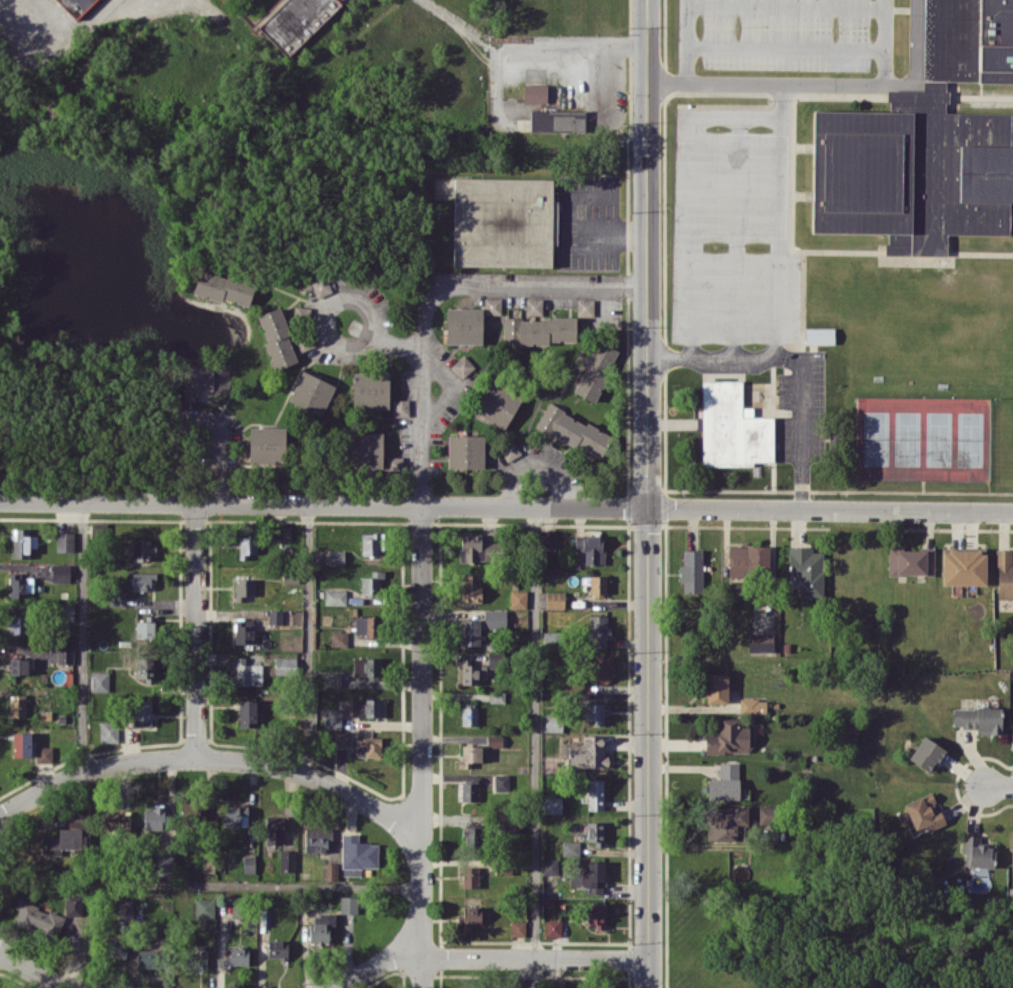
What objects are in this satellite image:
building: (75, 6)
building: (294, 21)
road: (680, 40)
road: (530, 41)
road: (883, 41)
road: (819, 83)
building: (535, 93)
building: (557, 120)
building: (925, 143)
road: (688, 172)
building: (504, 221)
road: (616, 235)
road: (779, 238)
road: (542, 284)
building: (223, 287)
building: (533, 306)
building: (585, 307)
building: (464, 325)
building: (546, 330)
road: (326, 334)
building: (819, 335)
building: (277, 338)
road: (800, 359)
building: (463, 365)
building: (595, 370)
building: (206, 377)
road: (458, 385)
building: (370, 389)
building: (311, 392)
road: (421, 392)
building: (497, 404)
building: (400, 407)
building: (732, 427)
building: (573, 430)
road: (223, 440)
building: (266, 445)
building: (364, 449)
building: (512, 449)
building: (465, 451)
road: (536, 459)
building: (393, 463)
road: (648, 493)
road: (324, 503)
road: (830, 509)
building: (547, 537)
building: (65, 541)
building: (22, 542)
building: (372, 543)
building: (247, 546)
building: (590, 547)
building: (142, 548)
building: (477, 548)
building: (336, 557)
building: (748, 561)
building: (911, 561)
building: (963, 567)
building: (807, 569)
building: (691, 570)
building: (60, 572)
building: (1004, 574)
building: (142, 580)
building: (373, 583)
building: (20, 584)
building: (598, 584)
building: (243, 588)
building: (470, 588)
building: (335, 596)
building: (518, 599)
building: (554, 599)
building: (65, 612)
building: (275, 616)
building: (495, 618)
building: (18, 624)
building: (367, 625)
building: (144, 629)
road: (194, 629)
building: (243, 631)
building: (470, 631)
building: (598, 631)
road: (82, 636)
road: (308, 638)
building: (339, 638)
building: (760, 642)
building: (65, 654)
building: (18, 663)
building: (285, 665)
building: (367, 666)
building: (145, 668)
building: (601, 669)
building: (471, 671)
building: (247, 672)
building: (332, 679)
building: (99, 681)
building: (716, 688)
building: (17, 705)
building: (752, 705)
building: (366, 707)
building: (143, 712)
building: (594, 712)
building: (247, 713)
building: (469, 715)
building: (332, 719)
building: (978, 719)
building: (553, 722)
building: (108, 731)
building: (730, 736)
building: (340, 738)
building: (494, 740)
building: (21, 744)
building: (370, 746)
road: (420, 746)
road: (534, 746)
building: (44, 753)
building: (588, 753)
building: (927, 754)
building: (469, 755)
road: (209, 757)
building: (500, 782)
building: (725, 783)
road: (999, 785)
building: (468, 790)
building: (595, 794)
building: (552, 804)
building: (193, 810)
building: (765, 812)
building: (923, 812)
building: (239, 815)
building: (154, 816)
building: (116, 822)
building: (725, 823)
building: (274, 829)
building: (595, 832)
building: (473, 836)
building: (64, 838)
building: (316, 839)
building: (1011, 847)
building: (570, 848)
building: (977, 852)
building: (357, 854)
building: (287, 860)
building: (165, 863)
building: (248, 863)
building: (208, 864)
building: (550, 865)
building: (330, 871)
building: (470, 876)
building: (589, 877)
road: (210, 882)
building: (74, 904)
building: (348, 904)
building: (125, 907)
building: (204, 907)
building: (595, 915)
building: (469, 917)
building: (37, 918)
building: (518, 927)
building: (552, 927)
building: (321, 928)
building: (114, 946)
building: (278, 949)
building: (237, 955)
road: (487, 957)
building: (149, 958)
building: (196, 958)
road: (34, 970)
building: (556, 983)

